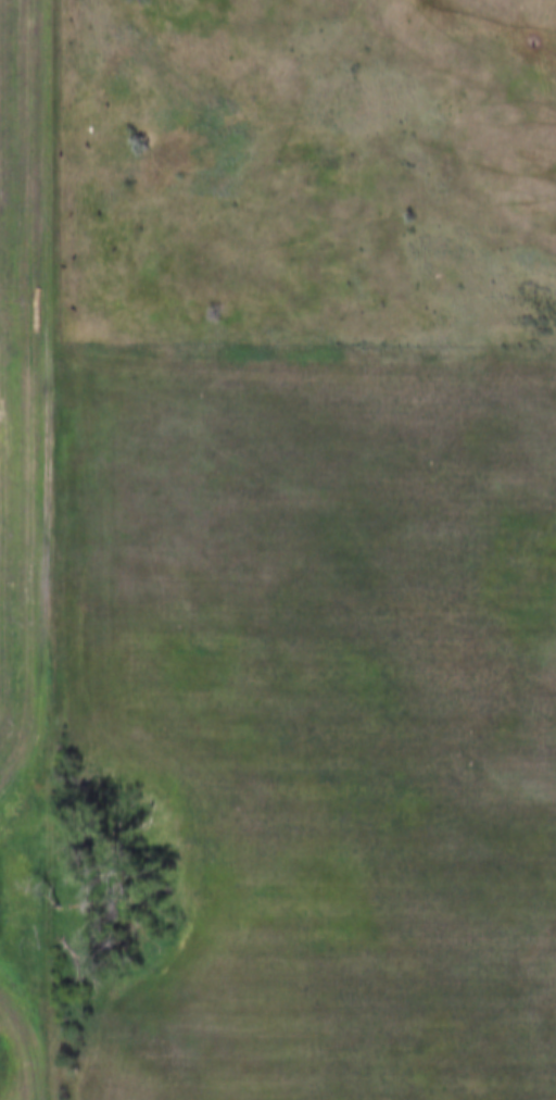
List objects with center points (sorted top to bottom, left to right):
road: (51, 424)
road: (43, 1025)

